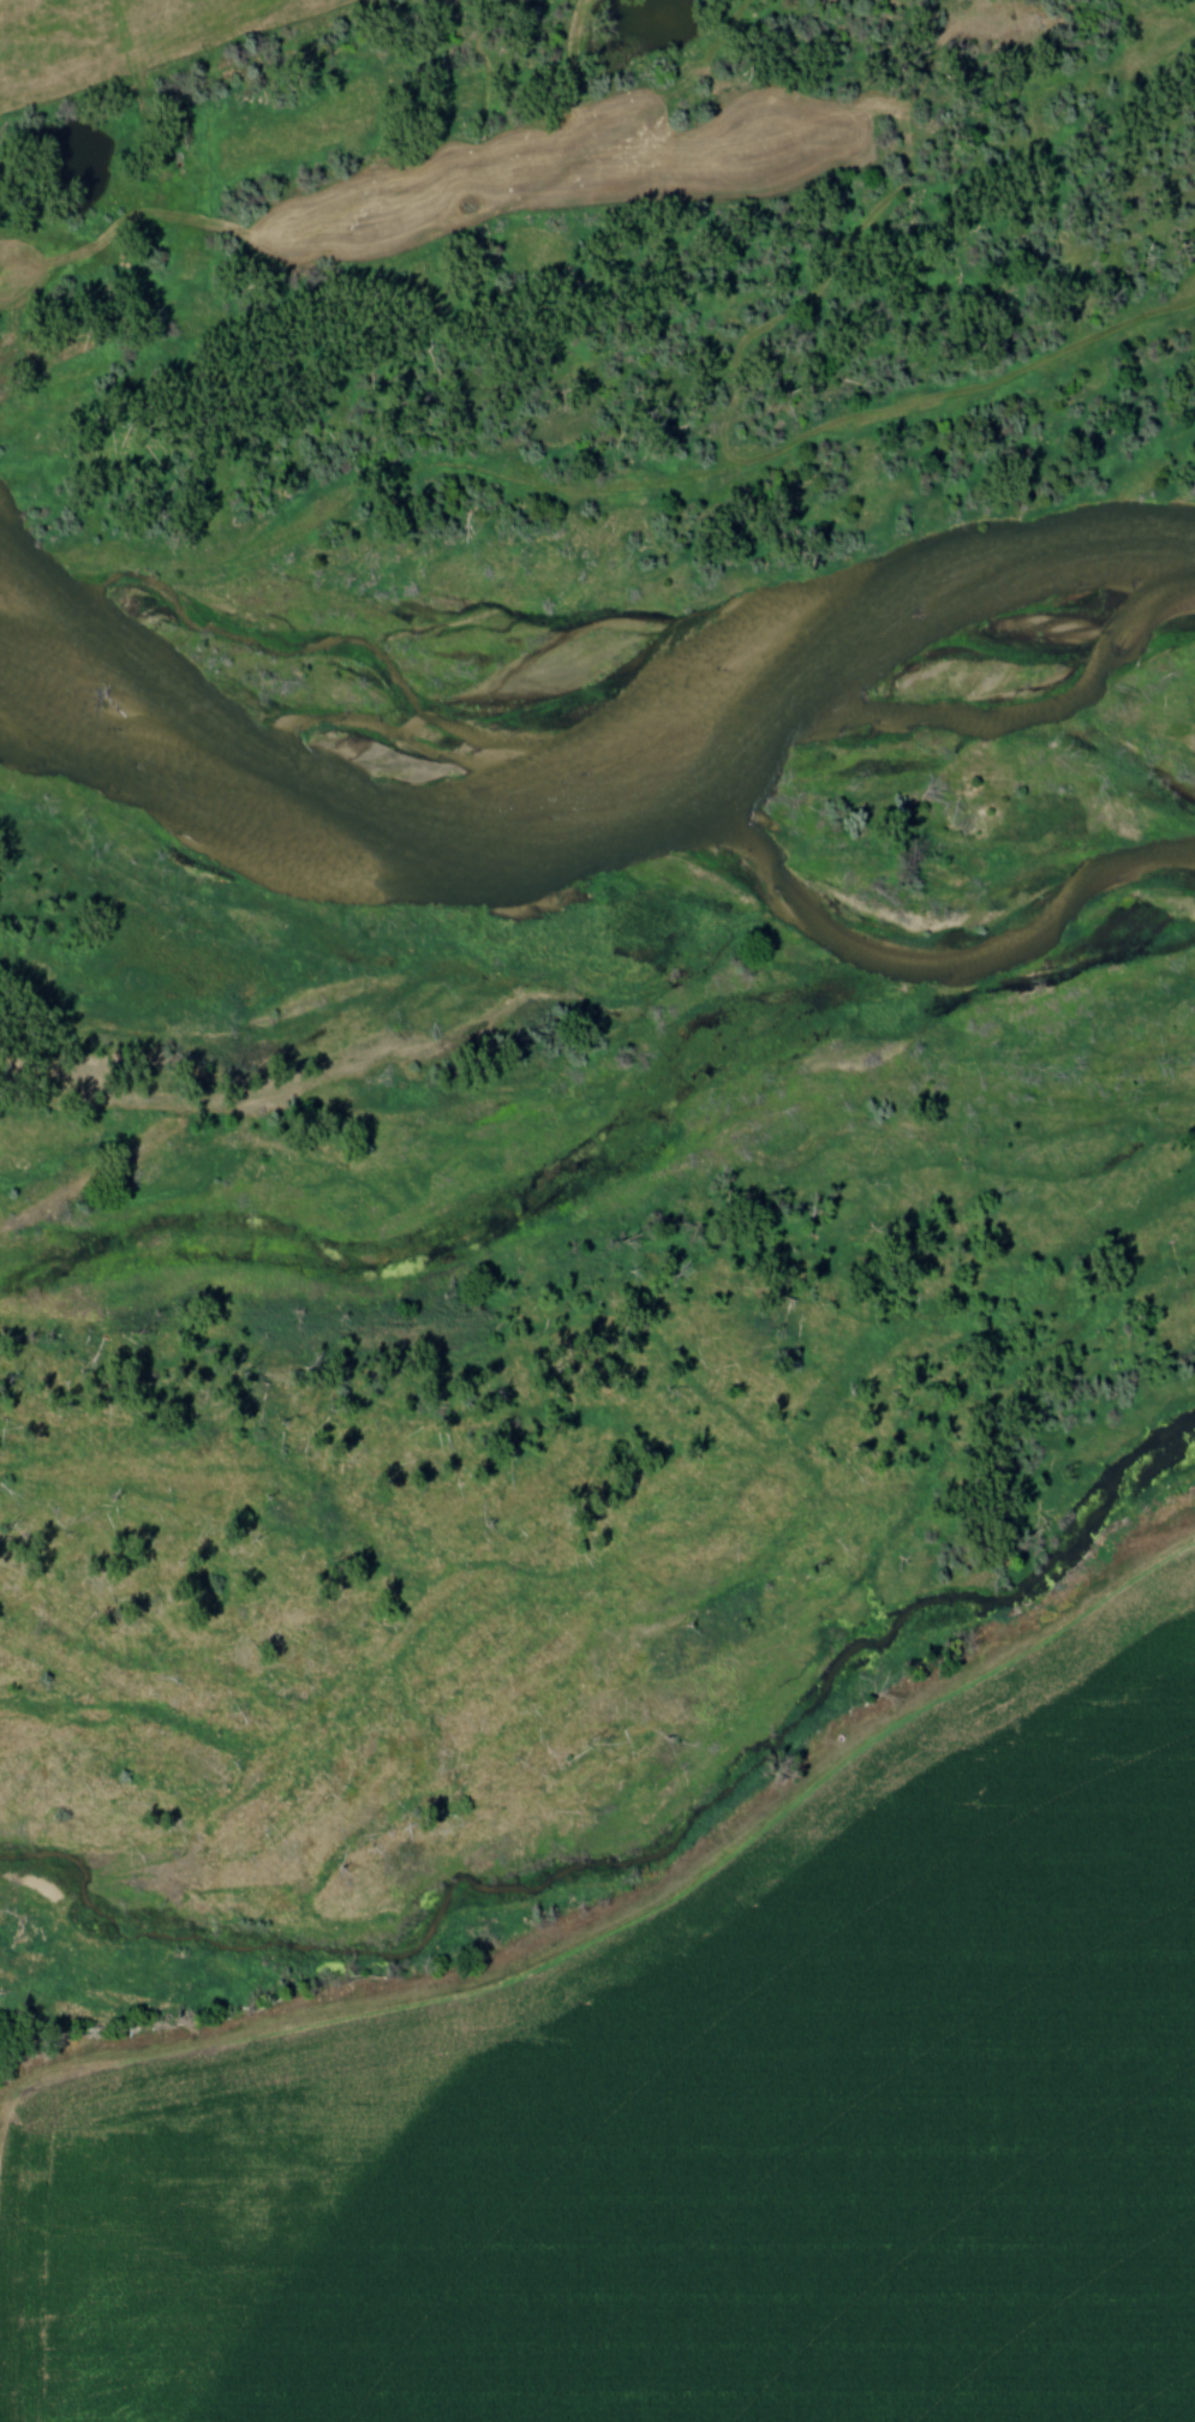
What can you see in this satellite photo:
river: (586, 716)

